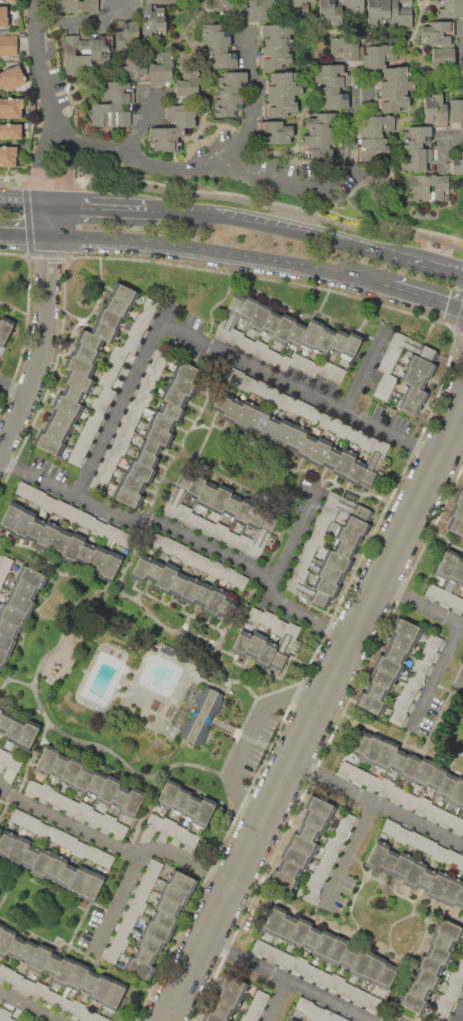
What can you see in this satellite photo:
building: (7, 0)
building: (159, 1)
building: (303, 1)
building: (77, 5)
building: (353, 5)
building: (255, 9)
building: (451, 9)
building: (378, 10)
building: (330, 12)
building: (400, 13)
building: (3, 16)
road: (193, 17)
road: (77, 19)
building: (152, 20)
building: (438, 32)
building: (215, 34)
building: (277, 35)
building: (127, 36)
building: (8, 45)
building: (347, 47)
building: (83, 53)
building: (222, 56)
building: (380, 56)
building: (273, 57)
building: (443, 57)
building: (134, 68)
building: (161, 68)
building: (460, 73)
building: (331, 75)
building: (11, 78)
building: (396, 78)
building: (188, 82)
building: (232, 82)
building: (284, 84)
building: (116, 91)
building: (333, 97)
building: (392, 100)
building: (227, 104)
building: (280, 105)
building: (10, 107)
building: (435, 108)
building: (455, 111)
building: (108, 115)
road: (48, 116)
building: (180, 116)
building: (321, 121)
building: (375, 126)
building: (10, 131)
building: (277, 132)
building: (318, 137)
building: (166, 139)
road: (443, 141)
building: (418, 147)
building: (373, 149)
building: (8, 156)
building: (457, 165)
road: (204, 168)
road: (324, 185)
building: (431, 187)
road: (233, 201)
road: (23, 203)
road: (96, 205)
road: (155, 208)
road: (259, 222)
road: (24, 234)
road: (221, 252)
road: (408, 258)
building: (124, 293)
road: (427, 298)
building: (116, 305)
building: (149, 306)
building: (248, 308)
building: (229, 317)
building: (259, 317)
building: (108, 318)
building: (143, 319)
building: (272, 322)
building: (5, 329)
building: (284, 329)
building: (136, 330)
building: (104, 332)
building: (296, 334)
building: (311, 334)
building: (234, 337)
building: (324, 339)
building: (90, 340)
building: (339, 341)
building: (131, 344)
building: (245, 344)
building: (351, 344)
building: (414, 347)
building: (258, 348)
road: (43, 351)
building: (85, 352)
building: (393, 352)
building: (118, 353)
building: (270, 356)
building: (160, 358)
building: (282, 361)
building: (297, 361)
building: (386, 364)
building: (79, 365)
building: (419, 365)
building: (113, 366)
building: (310, 367)
building: (325, 368)
building: (154, 371)
building: (186, 371)
building: (337, 374)
road: (362, 374)
building: (235, 376)
building: (414, 378)
building: (106, 379)
building: (78, 380)
building: (388, 380)
building: (246, 382)
building: (148, 384)
building: (183, 385)
building: (259, 387)
road: (15, 389)
building: (382, 392)
building: (73, 393)
building: (271, 393)
road: (301, 393)
building: (415, 393)
building: (106, 394)
building: (144, 397)
building: (174, 397)
building: (283, 401)
building: (222, 402)
building: (67, 405)
building: (98, 405)
building: (296, 405)
building: (409, 405)
building: (136, 408)
road: (121, 410)
building: (232, 410)
building: (171, 411)
building: (309, 412)
building: (246, 414)
building: (61, 418)
building: (95, 419)
building: (259, 419)
building: (320, 419)
building: (130, 421)
building: (161, 421)
building: (333, 423)
building: (270, 428)
building: (55, 431)
building: (88, 431)
building: (344, 431)
building: (124, 433)
building: (282, 433)
building: (158, 435)
building: (357, 435)
building: (295, 438)
building: (368, 443)
building: (48, 444)
building: (82, 444)
building: (120, 446)
building: (150, 446)
building: (307, 446)
building: (319, 451)
building: (76, 457)
building: (112, 457)
building: (146, 458)
building: (331, 458)
building: (344, 463)
building: (373, 463)
building: (106, 470)
building: (140, 471)
building: (355, 471)
building: (100, 482)
building: (132, 483)
building: (196, 486)
building: (461, 487)
building: (24, 490)
building: (206, 494)
building: (36, 495)
building: (126, 496)
building: (176, 496)
building: (459, 498)
building: (220, 499)
building: (48, 503)
building: (232, 505)
building: (348, 506)
building: (60, 507)
building: (329, 511)
building: (457, 511)
building: (183, 512)
building: (244, 512)
building: (73, 514)
building: (11, 516)
building: (256, 518)
building: (86, 520)
building: (194, 521)
building: (321, 523)
building: (23, 524)
building: (356, 525)
building: (455, 525)
building: (206, 527)
building: (98, 528)
building: (35, 530)
building: (219, 531)
building: (110, 532)
road: (185, 532)
road: (294, 535)
building: (47, 536)
building: (261, 537)
building: (318, 537)
building: (348, 537)
building: (123, 538)
building: (231, 539)
building: (155, 540)
building: (60, 541)
building: (243, 543)
building: (167, 545)
building: (73, 547)
building: (309, 548)
building: (343, 549)
building: (179, 550)
building: (85, 553)
building: (191, 557)
building: (97, 559)
building: (303, 560)
building: (336, 560)
building: (5, 563)
building: (203, 564)
building: (446, 564)
building: (110, 566)
building: (141, 567)
building: (215, 569)
building: (154, 570)
building: (457, 572)
building: (228, 573)
building: (298, 573)
building: (329, 573)
building: (2, 576)
building: (31, 576)
building: (166, 577)
building: (239, 582)
building: (178, 584)
building: (461, 585)
building: (0, 586)
building: (325, 586)
building: (24, 588)
building: (190, 590)
building: (307, 591)
building: (433, 592)
building: (203, 594)
building: (446, 598)
building: (215, 601)
building: (19, 602)
road: (421, 604)
building: (457, 604)
building: (227, 607)
building: (462, 613)
building: (13, 615)
building: (254, 616)
building: (268, 619)
building: (279, 627)
building: (9, 628)
building: (406, 628)
building: (401, 642)
building: (433, 642)
building: (7, 643)
building: (241, 643)
building: (255, 645)
building: (284, 646)
building: (167, 649)
building: (266, 654)
building: (394, 654)
building: (427, 655)
building: (3, 657)
building: (388, 666)
building: (1, 667)
building: (420, 667)
building: (381, 678)
building: (459, 678)
road: (439, 679)
building: (415, 680)
building: (376, 691)
building: (407, 692)
road: (292, 702)
building: (370, 703)
building: (401, 704)
building: (1, 708)
building: (201, 715)
road: (316, 716)
building: (397, 717)
building: (4, 720)
building: (14, 730)
building: (27, 735)
road: (247, 739)
building: (360, 743)
building: (373, 749)
building: (386, 755)
building: (4, 756)
building: (47, 759)
building: (398, 760)
building: (14, 762)
building: (59, 765)
building: (410, 767)
building: (347, 769)
building: (71, 771)
building: (423, 772)
building: (360, 776)
building: (435, 778)
building: (83, 779)
building: (373, 782)
building: (96, 784)
building: (447, 785)
building: (385, 786)
building: (33, 788)
building: (108, 790)
building: (46, 791)
building: (168, 793)
building: (457, 793)
building: (396, 794)
building: (120, 796)
building: (409, 799)
building: (58, 800)
building: (180, 800)
building: (132, 802)
road: (379, 802)
road: (244, 803)
building: (422, 804)
building: (462, 805)
building: (70, 806)
building: (319, 807)
building: (190, 808)
building: (84, 810)
building: (203, 812)
building: (434, 812)
building: (19, 816)
building: (94, 817)
building: (446, 818)
building: (314, 820)
building: (346, 820)
building: (107, 821)
building: (154, 821)
building: (31, 823)
building: (457, 824)
building: (167, 826)
building: (390, 827)
building: (43, 829)
building: (118, 829)
building: (178, 832)
building: (308, 832)
building: (340, 833)
building: (56, 835)
building: (401, 835)
building: (190, 839)
building: (414, 839)
building: (68, 841)
building: (6, 843)
road: (114, 844)
building: (302, 844)
building: (333, 844)
building: (427, 845)
building: (79, 849)
building: (18, 850)
building: (92, 853)
building: (439, 853)
building: (377, 854)
building: (30, 857)
building: (295, 857)
building: (328, 857)
building: (452, 857)
road: (351, 858)
building: (105, 859)
building: (389, 861)
building: (42, 863)
building: (460, 863)
building: (402, 866)
building: (153, 867)
building: (55, 868)
building: (289, 869)
building: (323, 870)
building: (414, 873)
building: (66, 875)
building: (283, 879)
building: (427, 879)
building: (79, 880)
building: (147, 880)
building: (182, 880)
building: (314, 881)
building: (438, 885)
building: (92, 886)
building: (451, 891)
building: (141, 893)
building: (175, 893)
building: (311, 895)
road: (119, 899)
building: (460, 899)
building: (137, 906)
building: (168, 906)
building: (129, 918)
building: (164, 919)
building: (273, 921)
building: (1, 927)
building: (285, 928)
building: (448, 929)
building: (123, 930)
building: (157, 931)
building: (299, 932)
building: (311, 938)
building: (6, 940)
building: (441, 941)
building: (119, 943)
building: (150, 943)
building: (323, 944)
building: (16, 947)
building: (260, 947)
building: (336, 950)
building: (28, 952)
building: (112, 954)
building: (273, 954)
building: (438, 954)
building: (461, 954)
building: (145, 956)
building: (348, 957)
building: (40, 958)
building: (286, 959)
building: (360, 962)
building: (298, 964)
building: (52, 965)
building: (429, 965)
building: (460, 967)
building: (139, 968)
building: (373, 969)
building: (63, 971)
building: (5, 972)
building: (310, 972)
building: (386, 975)
building: (77, 976)
building: (322, 978)
building: (425, 978)
building: (456, 979)
building: (14, 980)
road: (289, 981)
building: (89, 982)
building: (335, 982)
building: (232, 985)
building: (26, 986)
building: (101, 989)
building: (417, 989)
building: (39, 990)
building: (347, 990)
building: (453, 992)
building: (114, 995)
building: (360, 996)
building: (51, 997)
building: (227, 998)
building: (260, 998)
road: (280, 1001)
building: (412, 1002)
building: (444, 1002)
building: (64, 1003)
building: (373, 1003)
road: (32, 1005)
building: (303, 1005)
building: (0, 1007)
building: (76, 1008)
building: (221, 1010)
building: (254, 1011)
building: (315, 1012)
building: (4, 1014)
building: (88, 1015)
building: (440, 1015)
building: (328, 1016)
building: (211, 1017)
building: (101, 1018)
building: (246, 1018)
road: (462, 1018)
building: (12, 1019)
building: (341, 1019)
road: (61, 1020)
building: (291, 1020)

